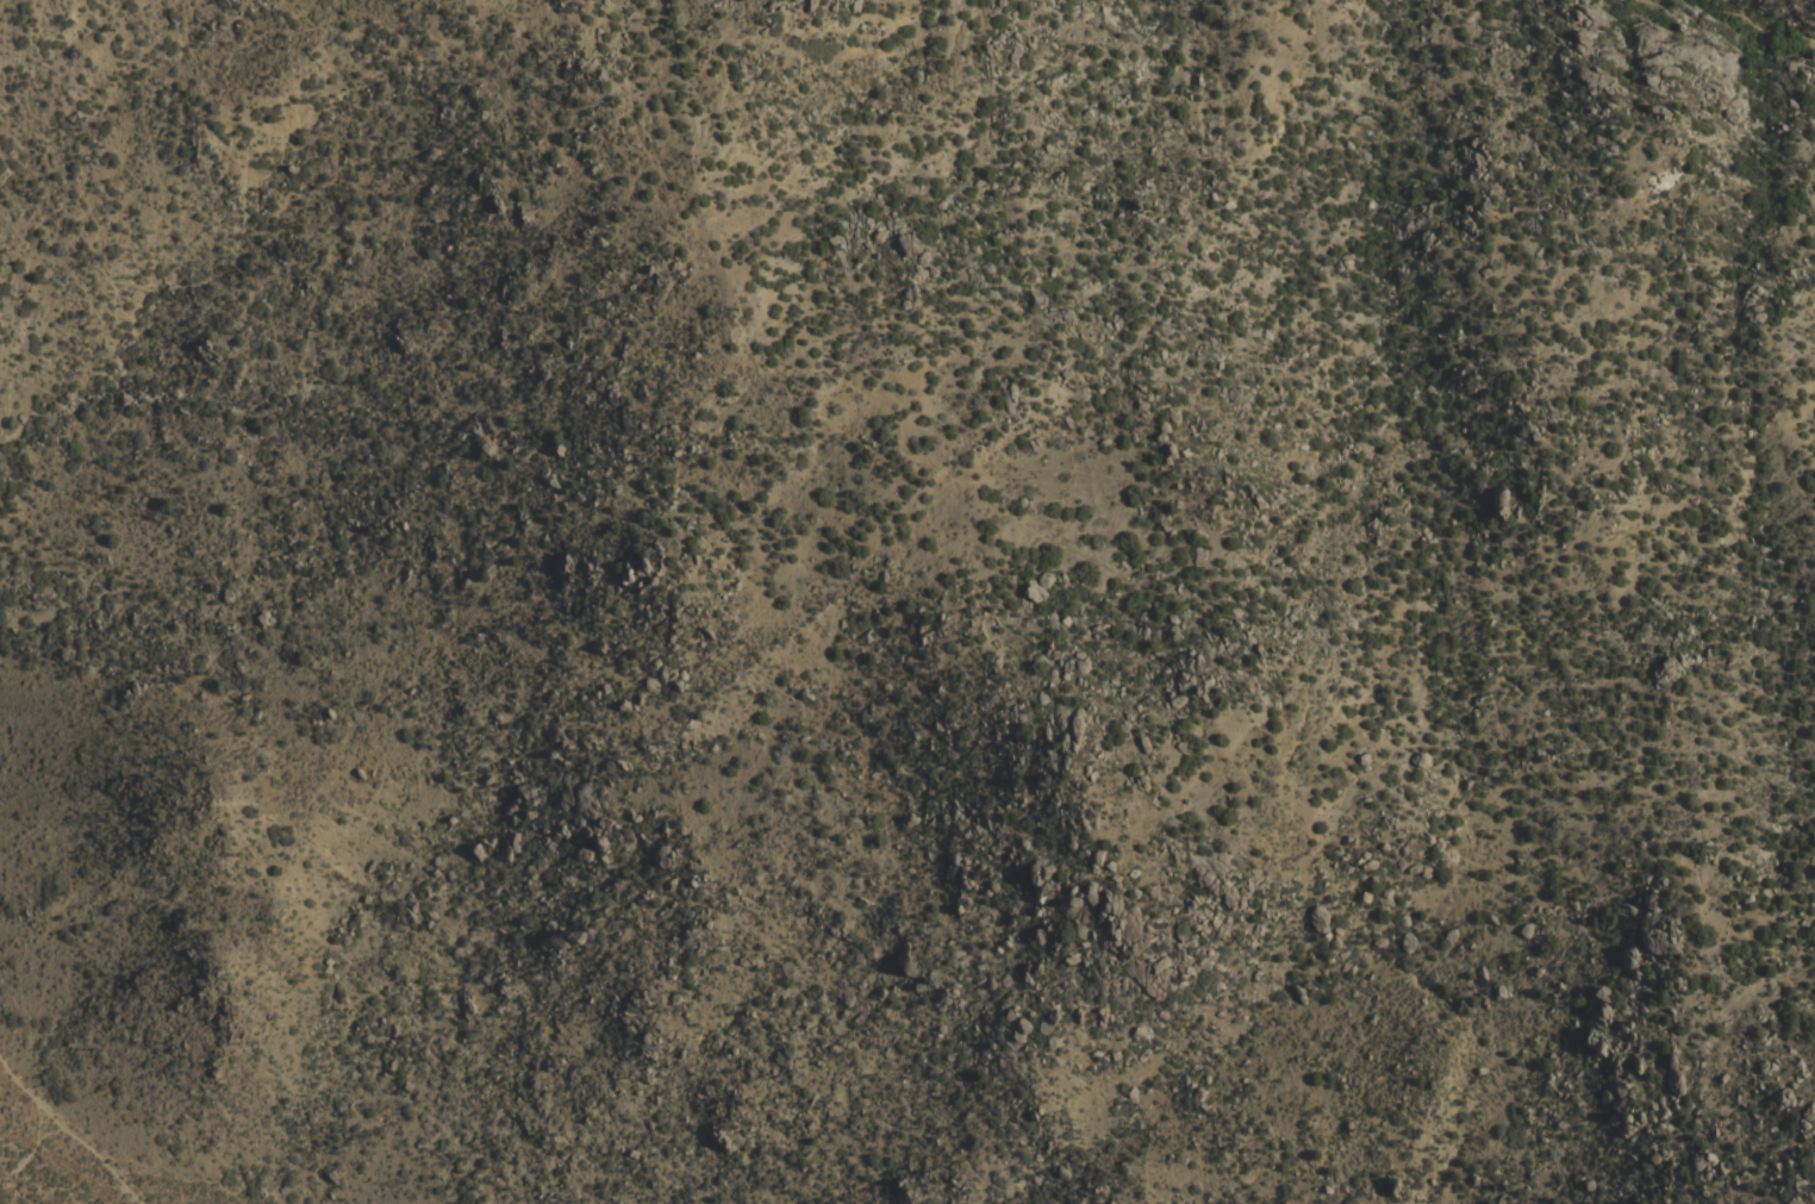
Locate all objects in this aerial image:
road: (1769, 18)
road: (70, 1127)

